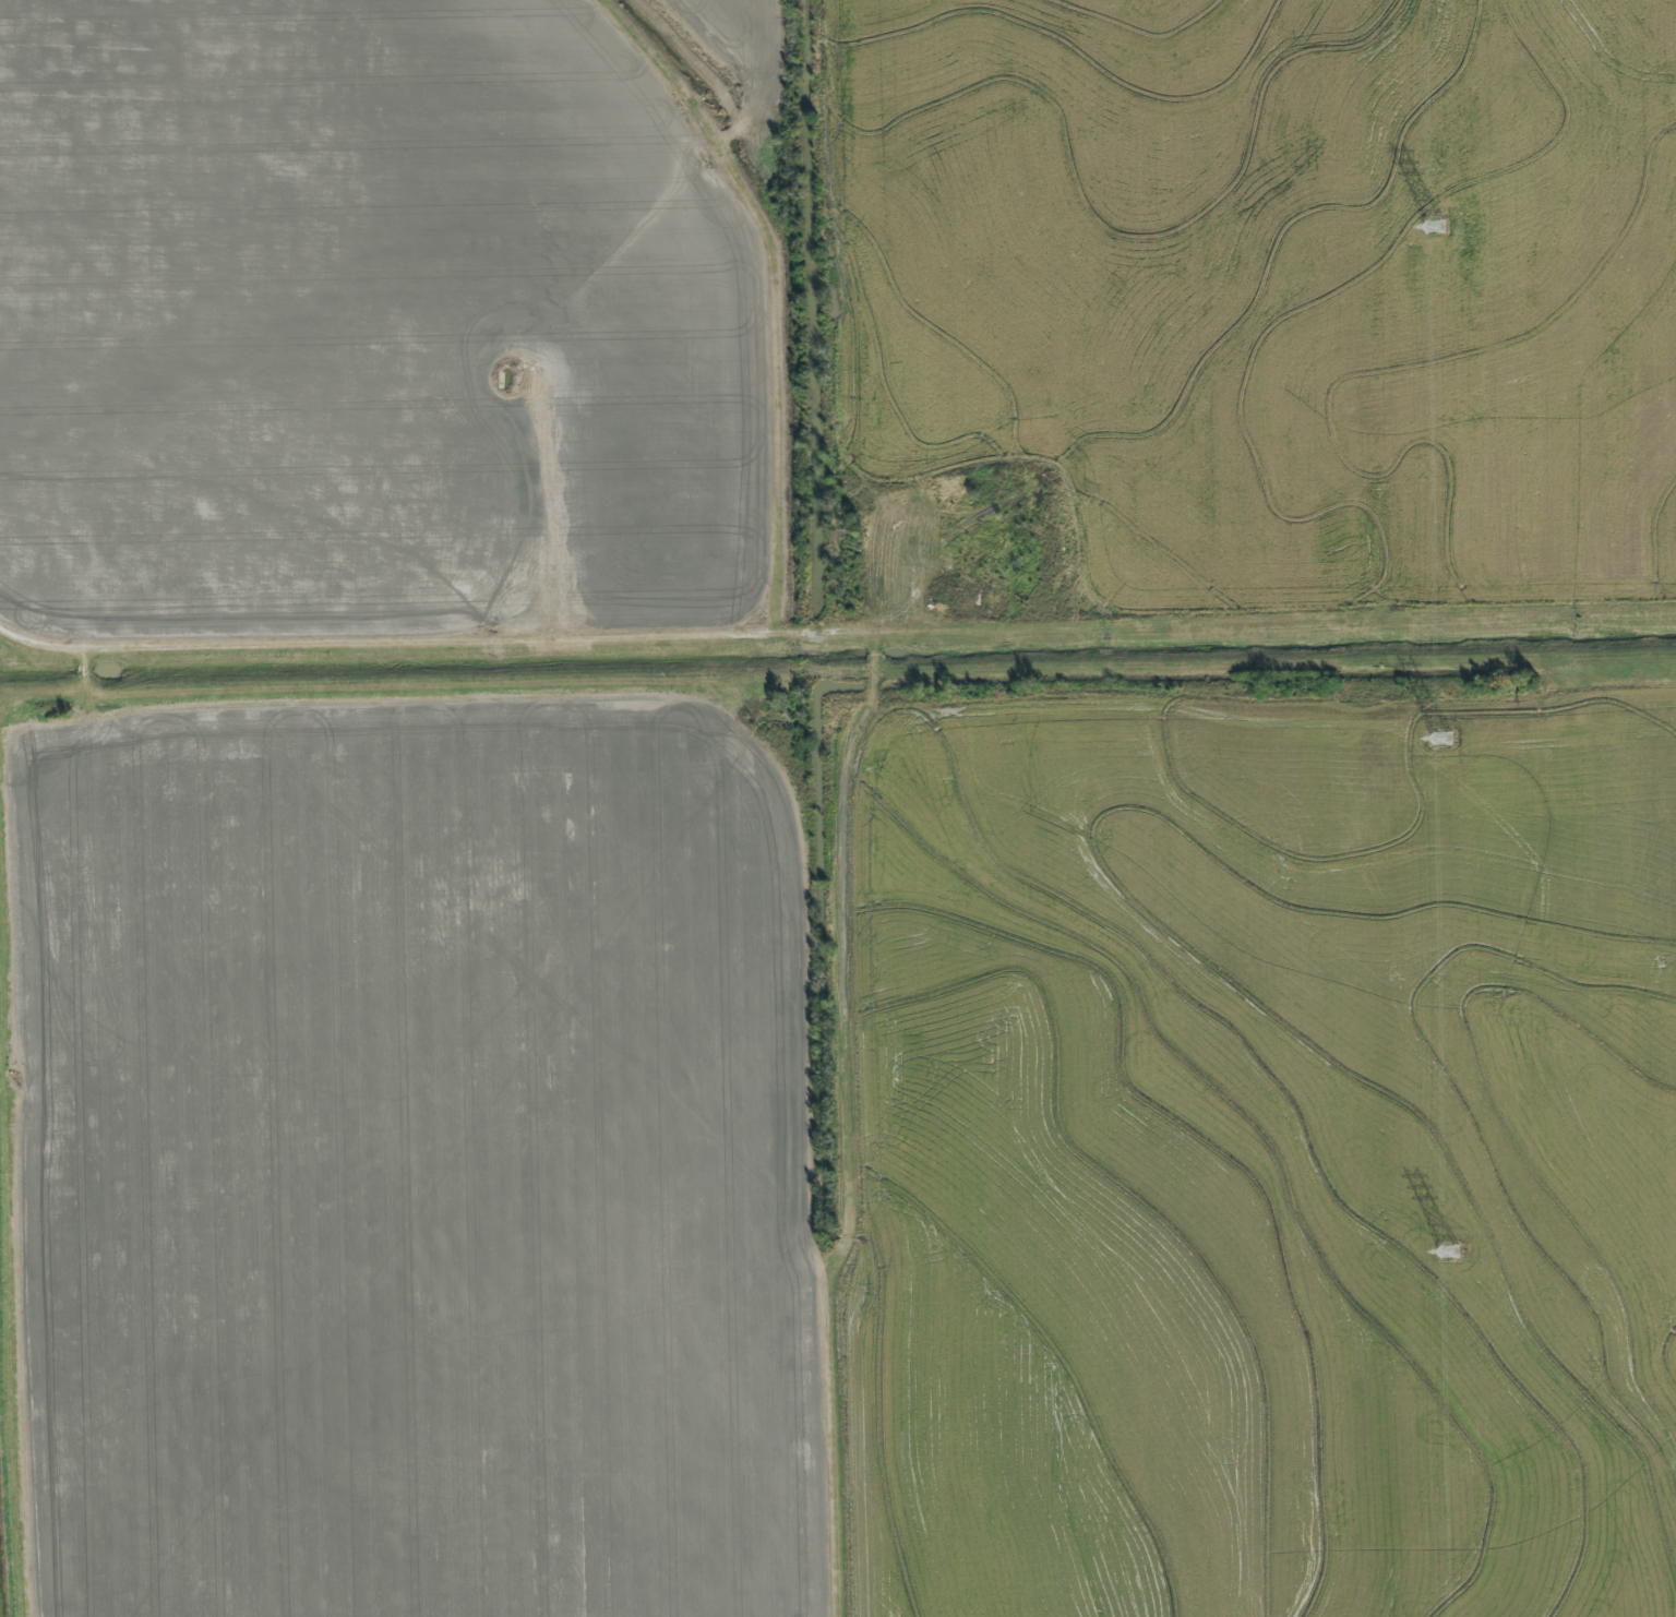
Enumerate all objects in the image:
power tower: (1435, 226)
road: (558, 510)
road: (610, 639)
power tower: (1442, 739)
power tower: (1449, 1253)

